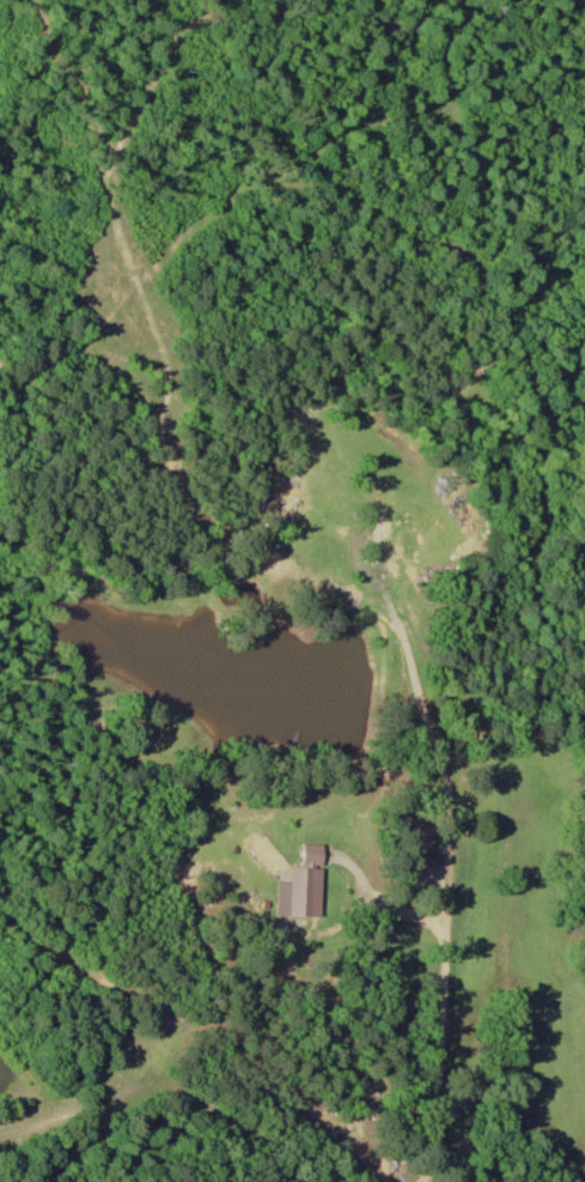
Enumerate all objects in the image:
road: (160, 340)
road: (74, 350)
road: (525, 364)
dam: (388, 675)
road: (434, 748)
road: (53, 881)
building: (311, 881)
road: (371, 897)
road: (437, 1053)
road: (167, 1085)

